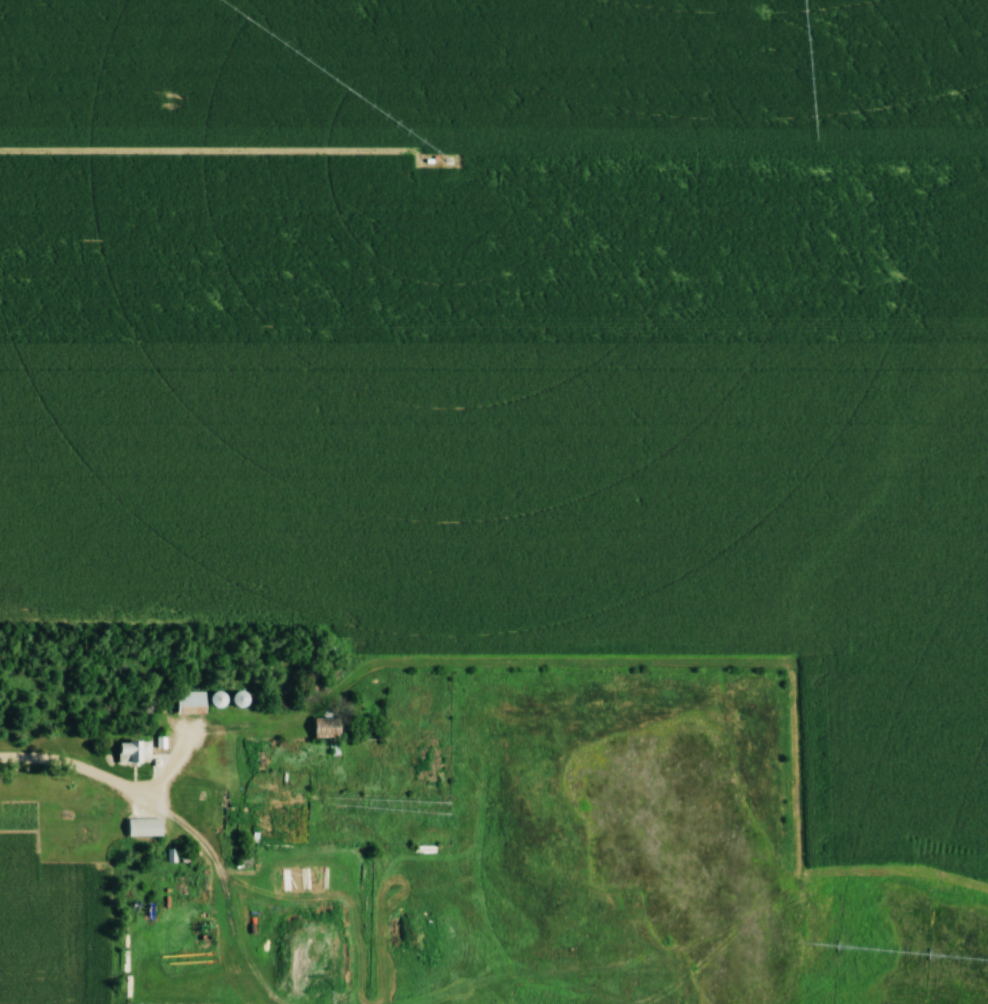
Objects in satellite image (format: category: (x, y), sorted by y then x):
building: (221, 698)
building: (243, 698)
building: (193, 702)
building: (331, 727)
building: (136, 752)
road: (63, 768)
building: (146, 827)

